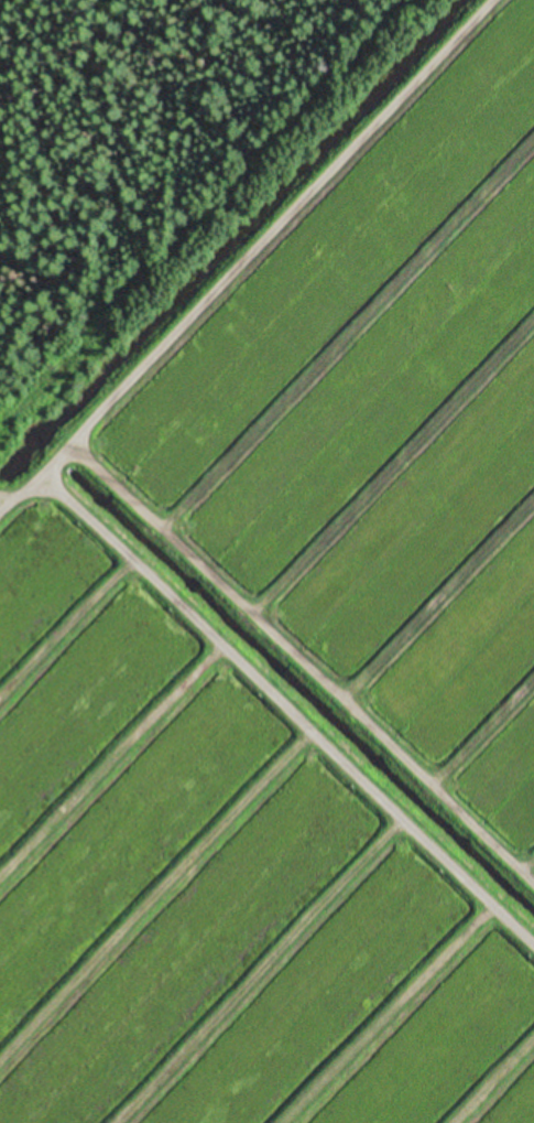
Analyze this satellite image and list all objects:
crop: (292, 646)

